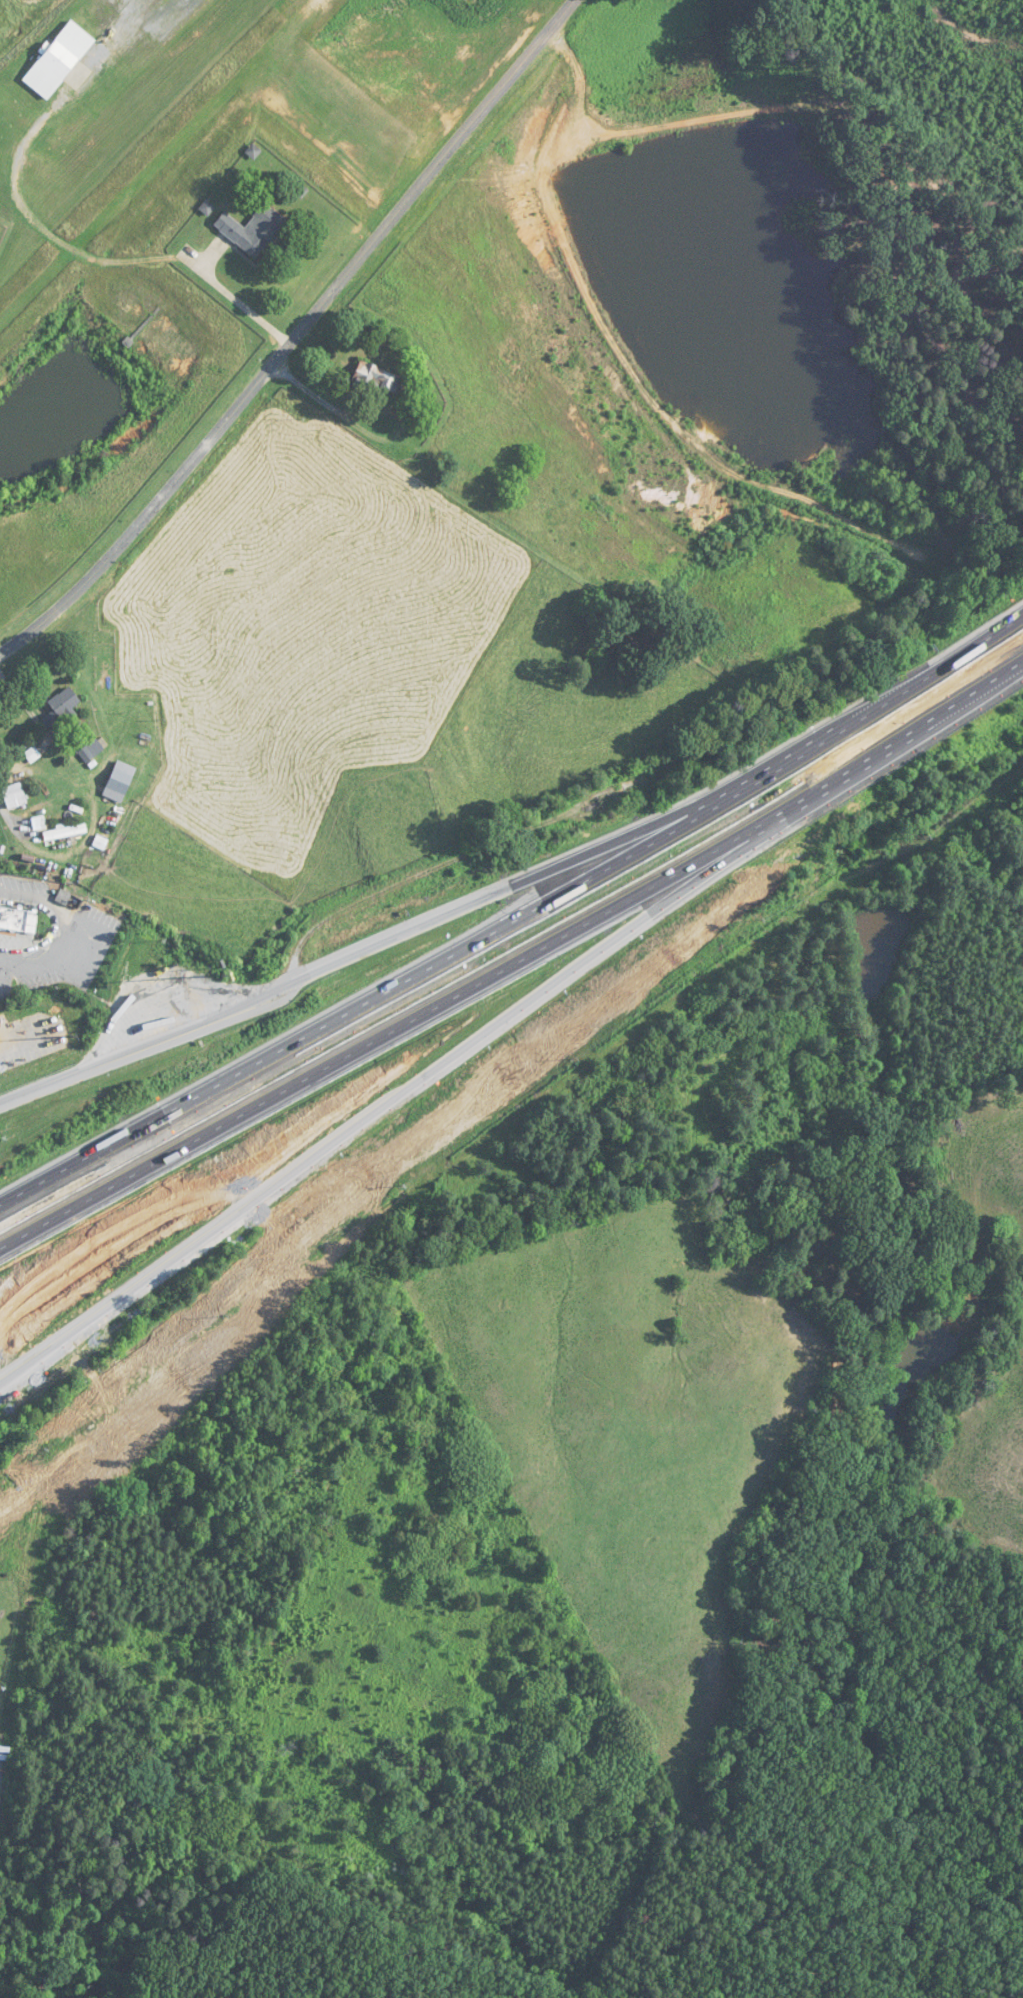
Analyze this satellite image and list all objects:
building: (65, 65)
building: (253, 230)
road: (242, 308)
road: (300, 339)
building: (380, 379)
road: (344, 414)
building: (61, 706)
road: (28, 708)
building: (90, 750)
building: (121, 777)
building: (14, 795)
building: (64, 832)
road: (521, 857)
road: (22, 895)
road: (517, 918)
building: (16, 920)
road: (58, 950)
road: (516, 961)
road: (504, 1083)

